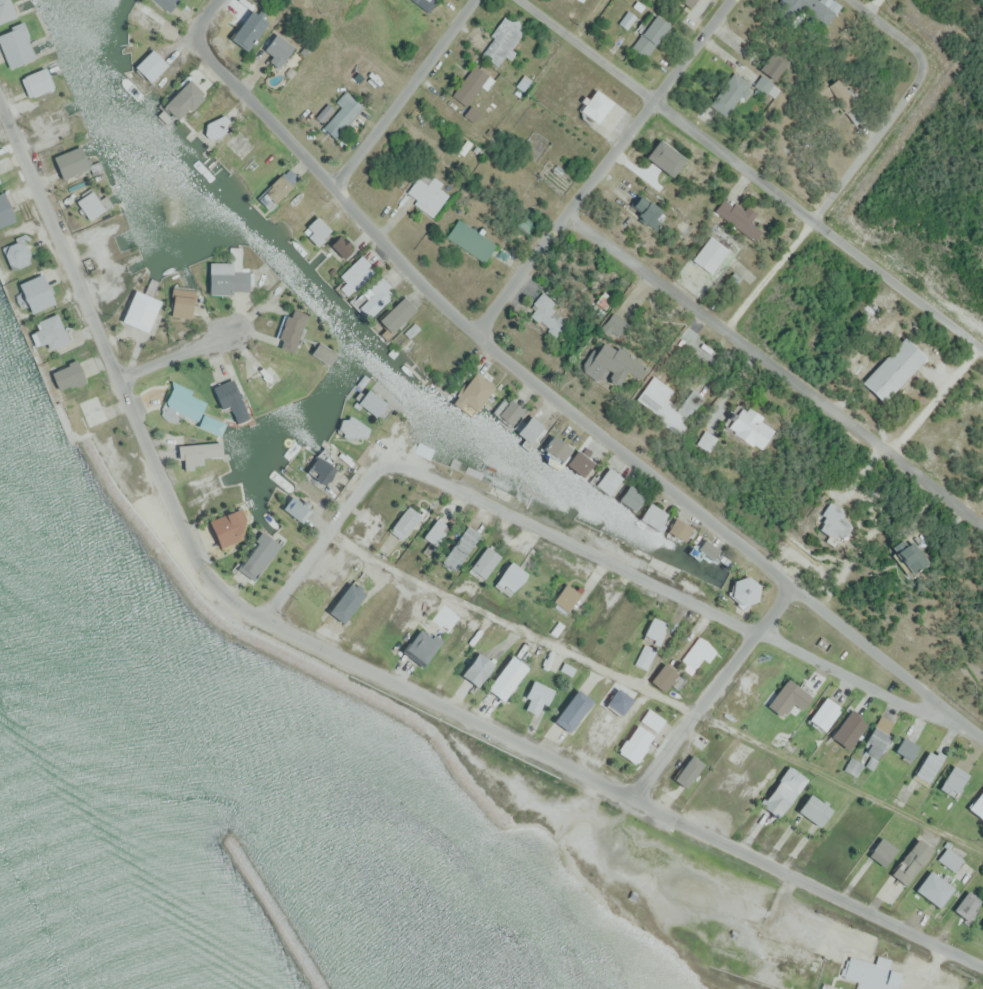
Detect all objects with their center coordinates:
building: (688, 2)
building: (165, 3)
building: (425, 4)
building: (5, 10)
building: (813, 11)
road: (207, 15)
building: (145, 20)
road: (591, 20)
road: (887, 26)
building: (649, 35)
building: (502, 41)
building: (15, 45)
building: (276, 49)
building: (149, 65)
building: (770, 70)
building: (39, 79)
building: (471, 84)
building: (834, 90)
road: (404, 93)
building: (731, 94)
building: (181, 100)
building: (594, 105)
building: (343, 113)
building: (51, 122)
building: (217, 125)
building: (70, 162)
road: (604, 166)
road: (753, 174)
building: (274, 191)
building: (427, 193)
road: (832, 193)
building: (89, 204)
building: (644, 210)
building: (4, 211)
building: (740, 218)
building: (316, 230)
building: (470, 240)
building: (337, 248)
building: (15, 253)
building: (709, 254)
building: (354, 274)
building: (227, 279)
building: (34, 292)
building: (372, 296)
building: (180, 302)
building: (139, 310)
building: (395, 314)
building: (547, 315)
building: (290, 329)
building: (49, 331)
road: (177, 352)
building: (321, 352)
building: (605, 362)
road: (777, 366)
building: (892, 369)
building: (66, 375)
building: (278, 379)
building: (472, 392)
building: (228, 397)
road: (936, 398)
building: (675, 399)
building: (183, 403)
building: (373, 404)
road: (569, 406)
building: (508, 411)
building: (87, 412)
building: (210, 424)
building: (746, 427)
building: (528, 428)
building: (703, 440)
building: (196, 453)
building: (579, 462)
building: (318, 469)
building: (607, 480)
building: (505, 482)
building: (209, 488)
building: (630, 497)
building: (294, 508)
building: (652, 515)
building: (404, 522)
building: (832, 523)
building: (227, 525)
building: (678, 529)
building: (435, 531)
road: (328, 537)
building: (459, 547)
building: (707, 549)
building: (255, 552)
building: (903, 553)
building: (483, 562)
building: (509, 578)
road: (673, 590)
building: (743, 590)
building: (565, 597)
building: (653, 631)
building: (981, 636)
building: (422, 646)
building: (697, 653)
building: (645, 656)
road: (356, 662)
building: (475, 669)
building: (663, 677)
building: (505, 678)
road: (657, 690)
road: (712, 690)
building: (787, 697)
building: (536, 698)
building: (602, 711)
building: (823, 713)
building: (652, 719)
building: (847, 730)
building: (877, 736)
building: (634, 743)
building: (905, 749)
building: (852, 766)
building: (687, 771)
building: (920, 774)
building: (952, 781)
building: (781, 791)
building: (977, 806)
building: (812, 809)
building: (881, 851)
building: (950, 859)
building: (910, 861)
building: (933, 888)
building: (966, 905)
building: (982, 924)
building: (870, 972)

